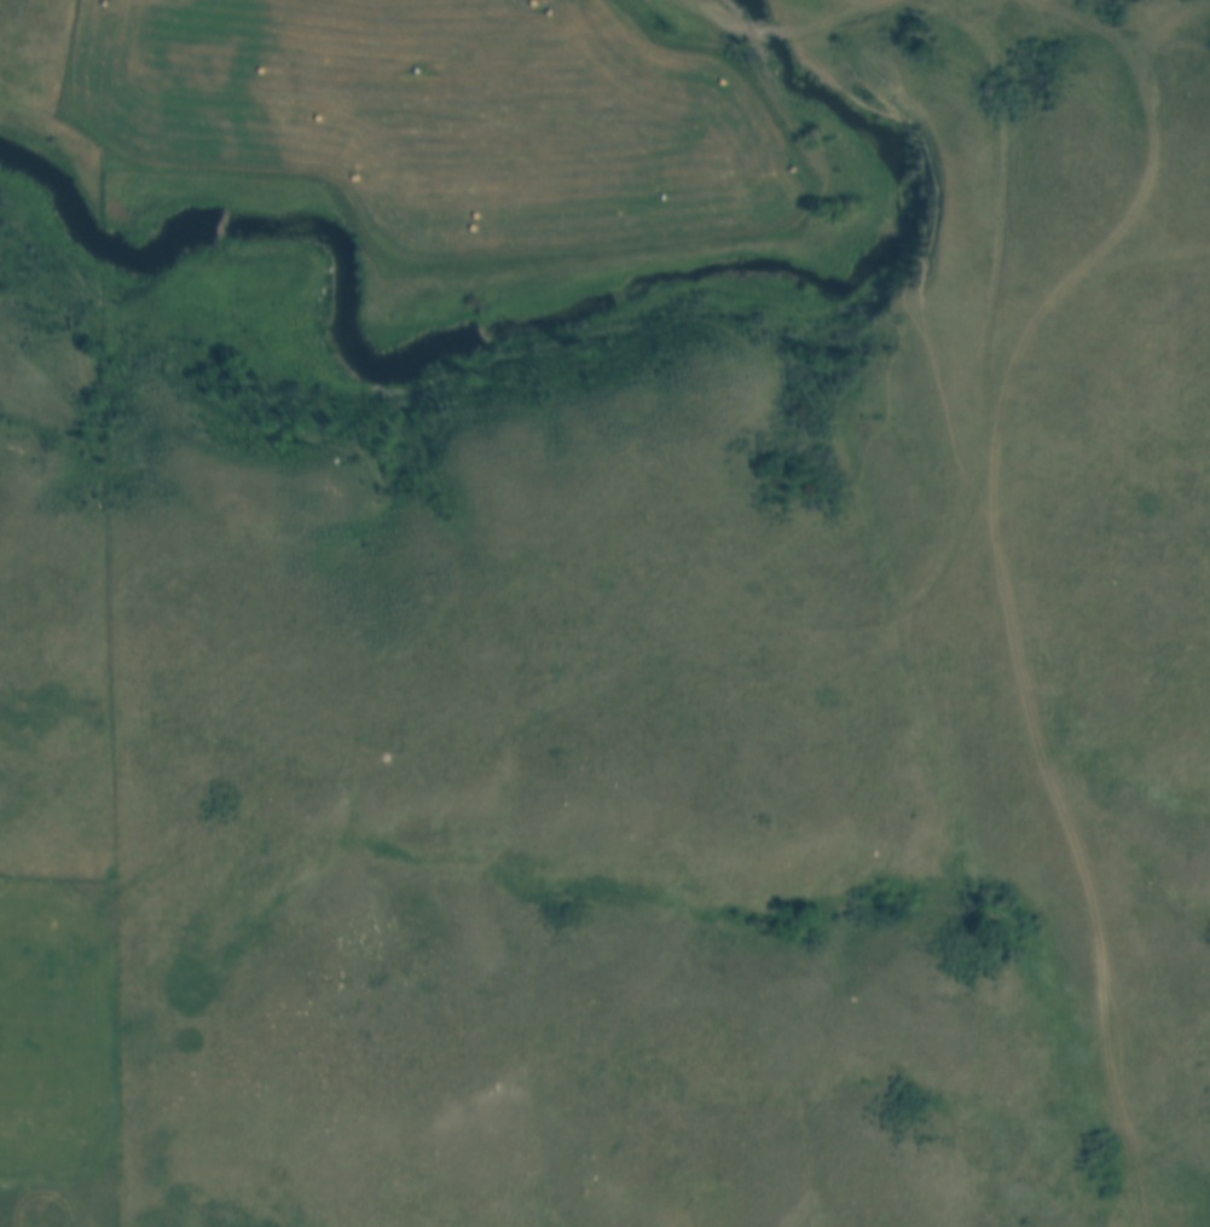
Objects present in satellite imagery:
road: (777, 18)
road: (1001, 566)

